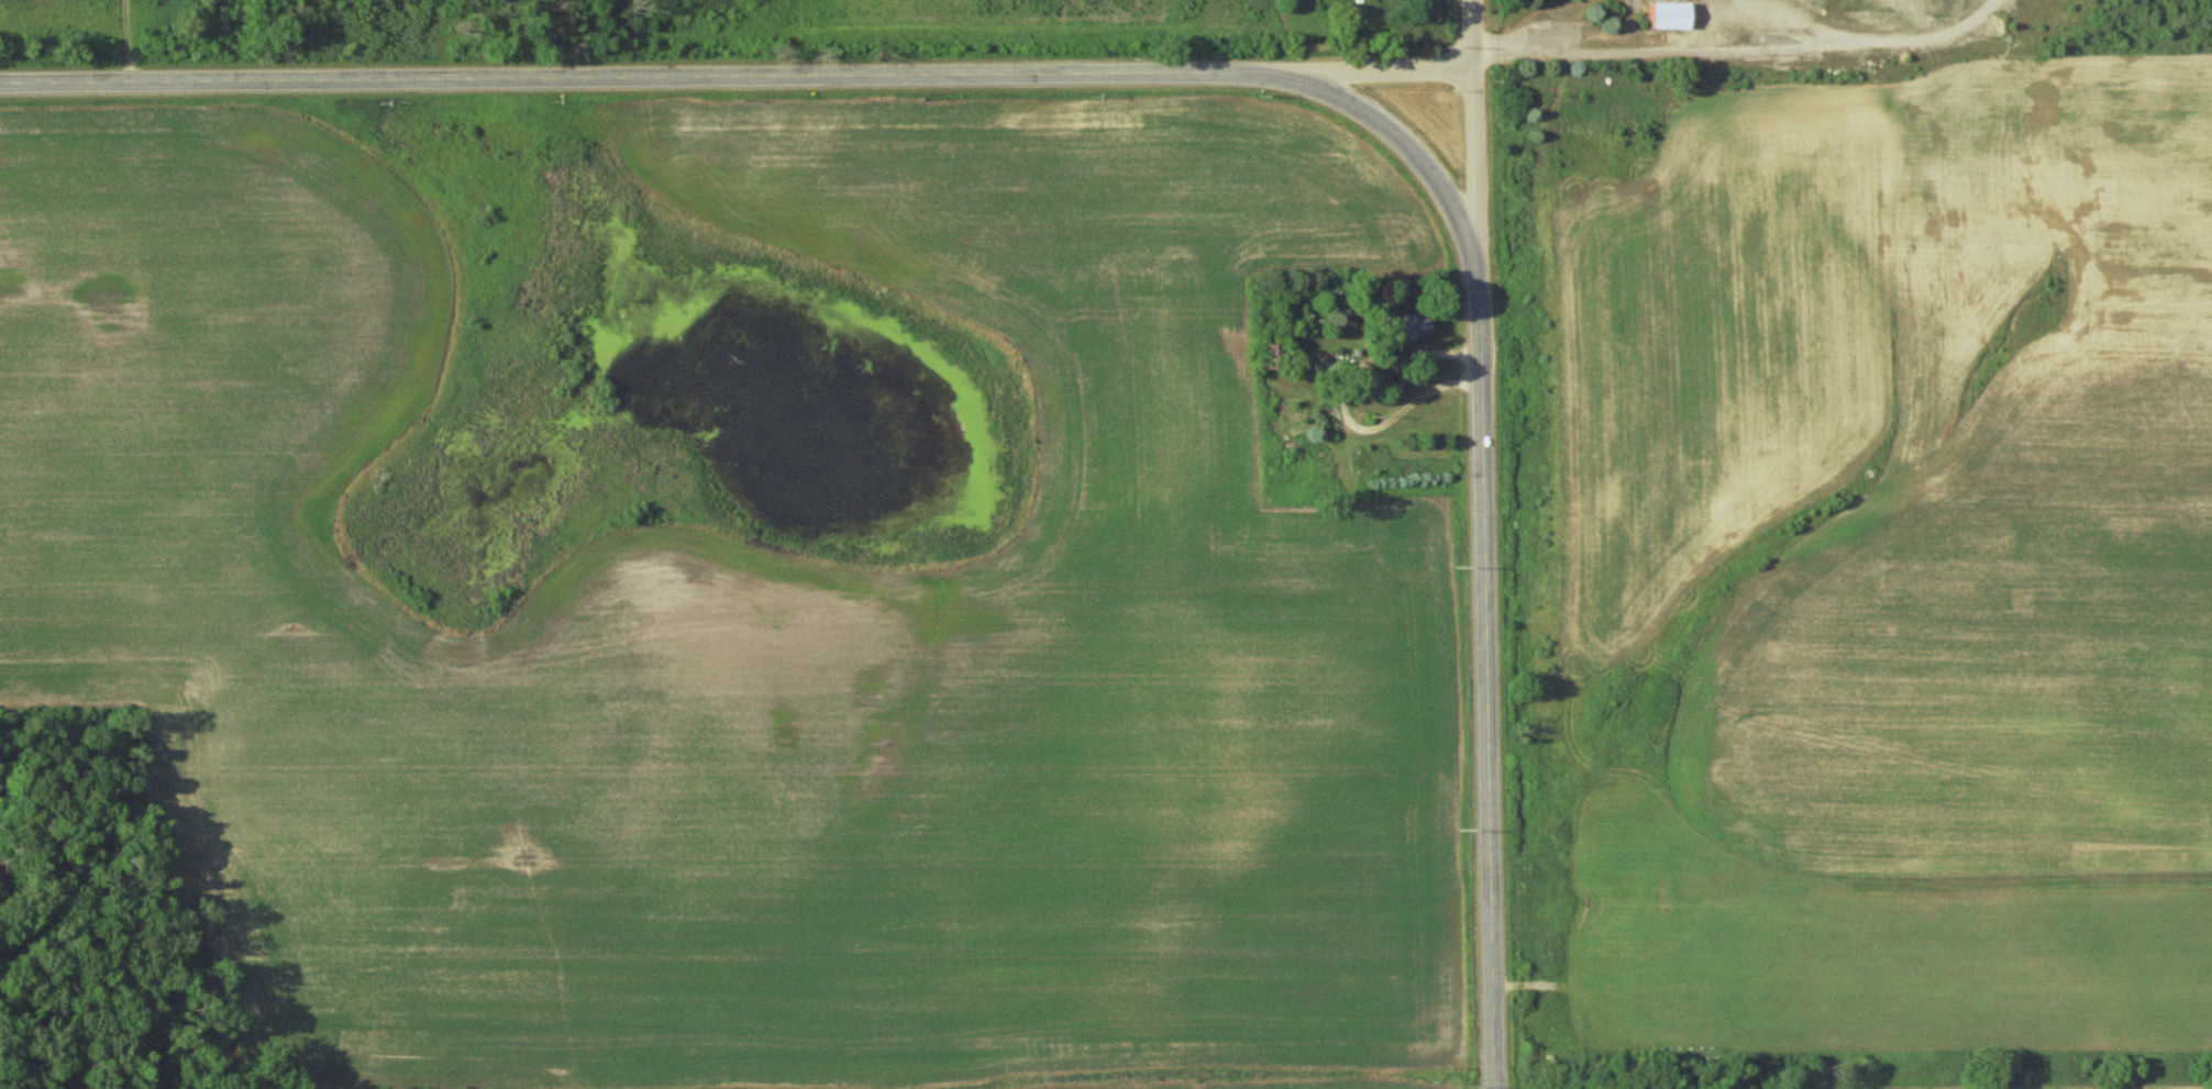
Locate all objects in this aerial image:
building: (1385, 1)
building: (1668, 16)
road: (1846, 59)
road: (1372, 75)
road: (637, 77)
road: (1472, 147)
road: (1412, 152)
building: (1406, 326)
road: (1343, 409)
road: (1484, 691)

